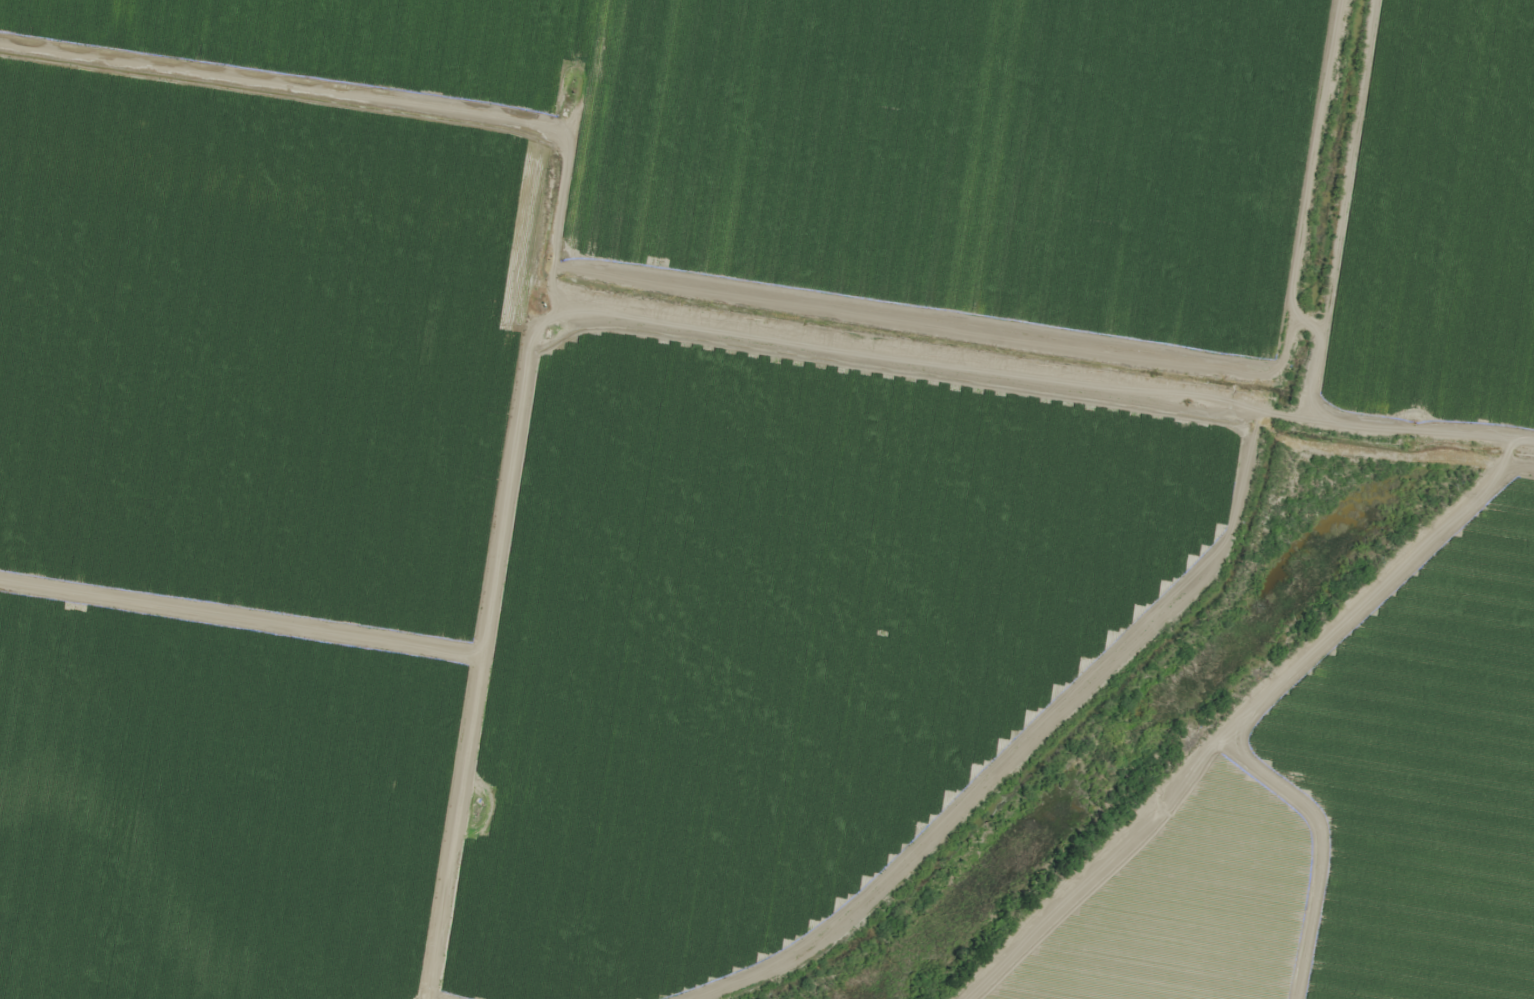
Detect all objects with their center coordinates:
road: (770, 297)
road: (494, 650)
road: (1234, 734)

